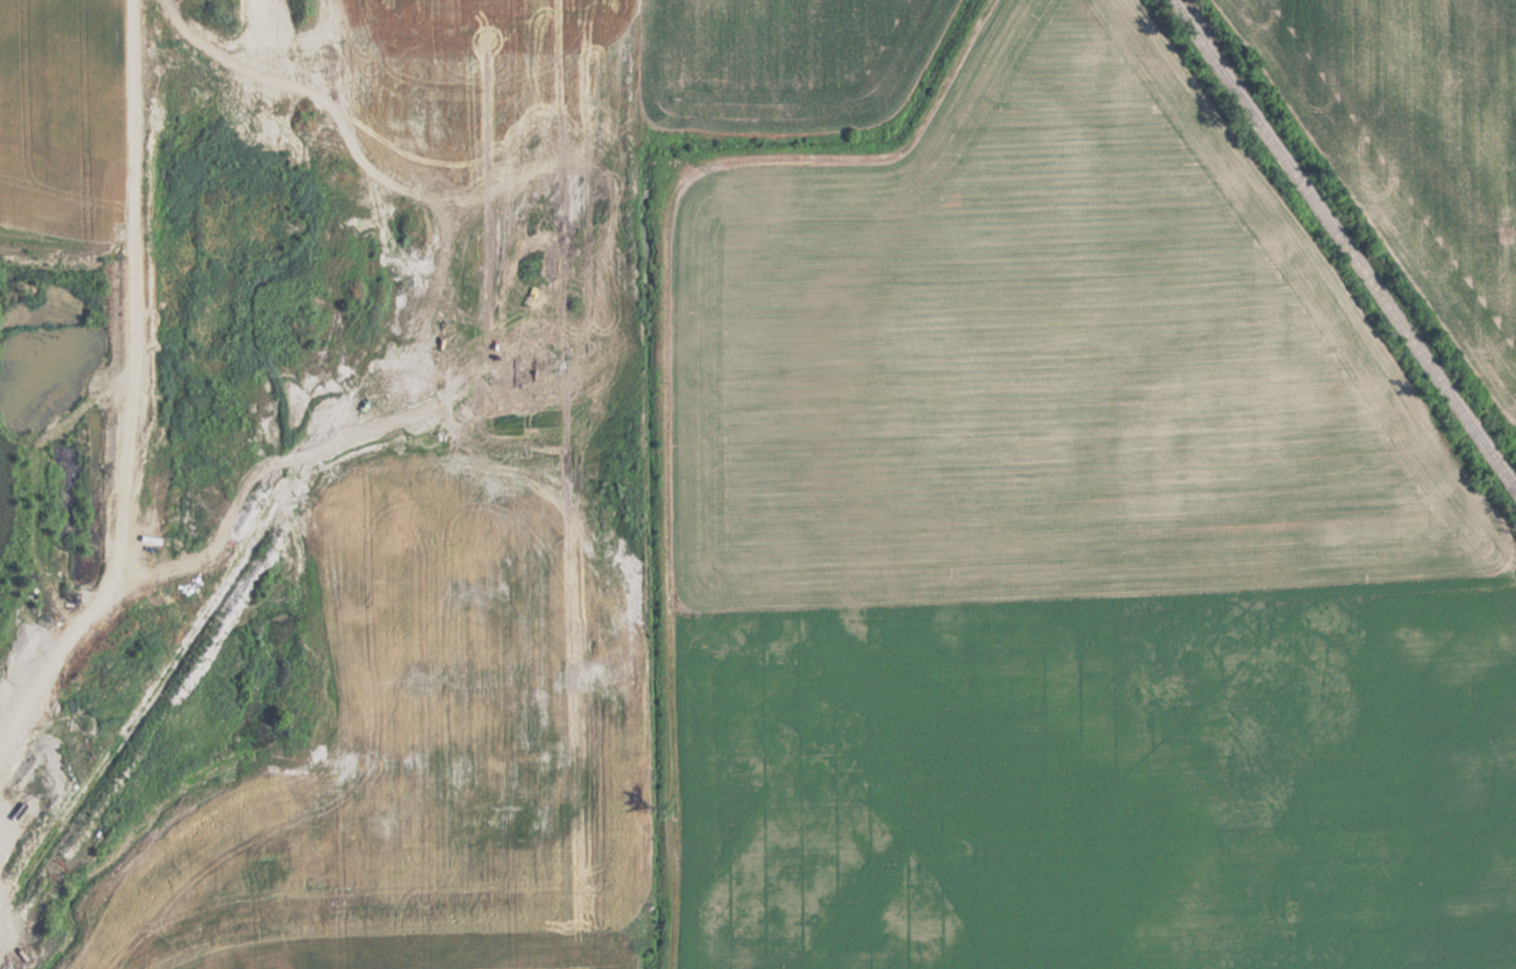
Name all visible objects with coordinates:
railway: (1346, 239)

